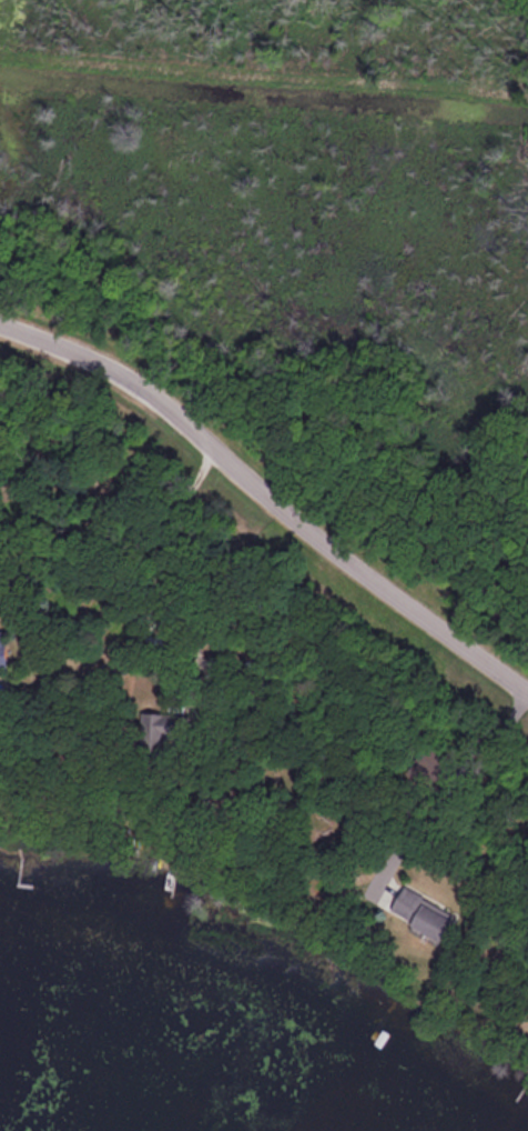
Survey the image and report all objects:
road: (267, 501)
building: (0, 649)
building: (156, 728)
building: (419, 912)

